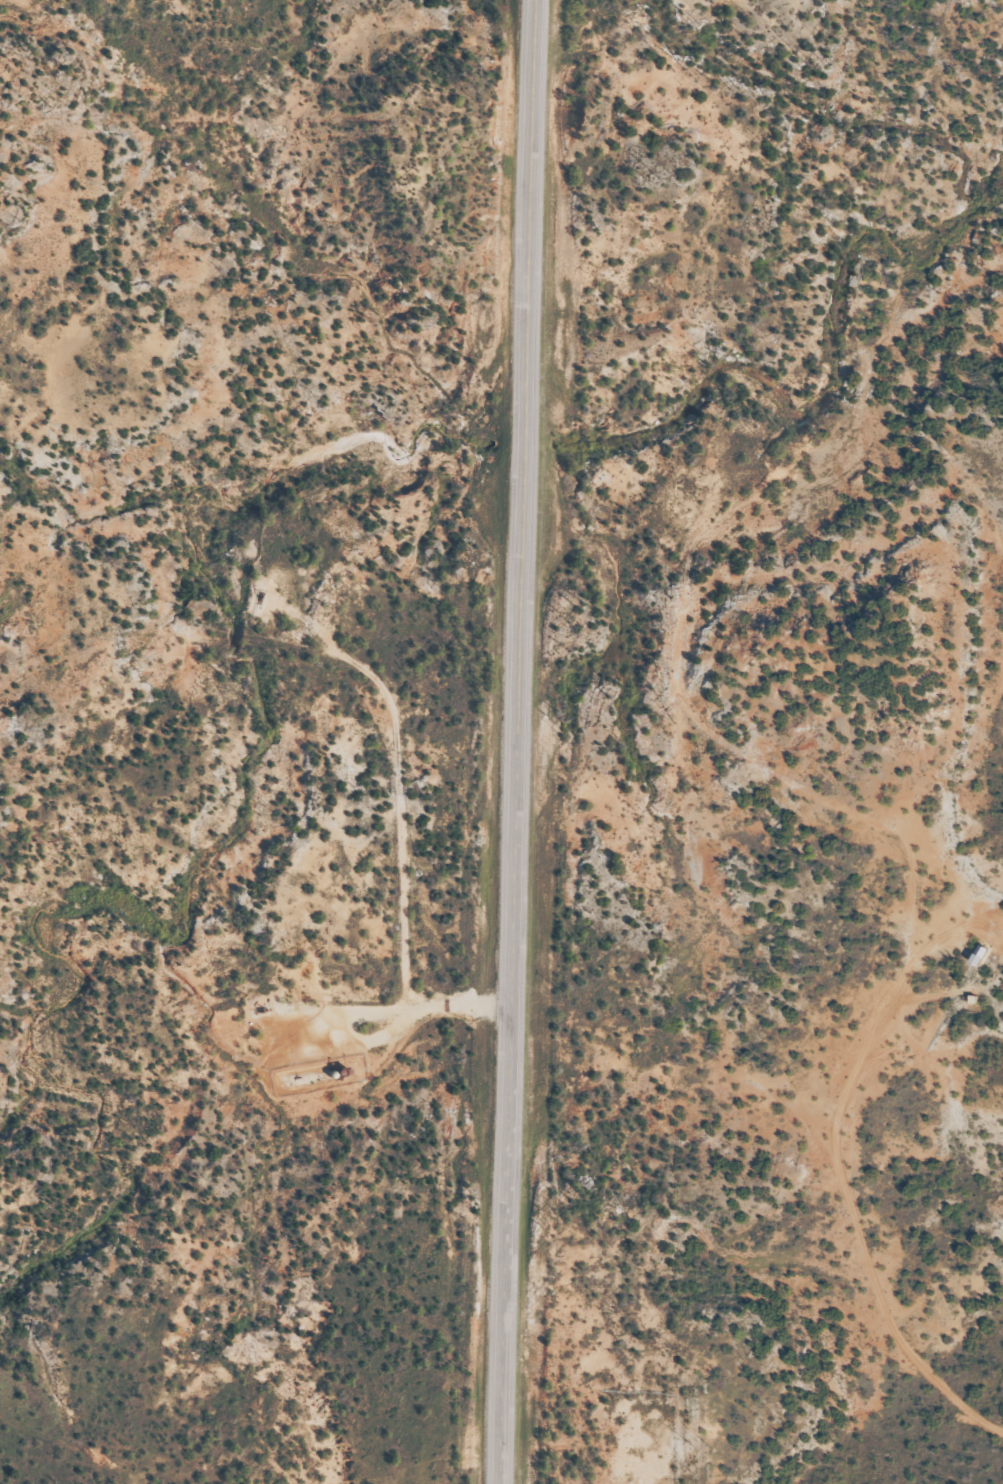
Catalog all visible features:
petroleum well: (264, 594)
road: (517, 741)
building: (981, 954)
petroleum well: (264, 1009)

